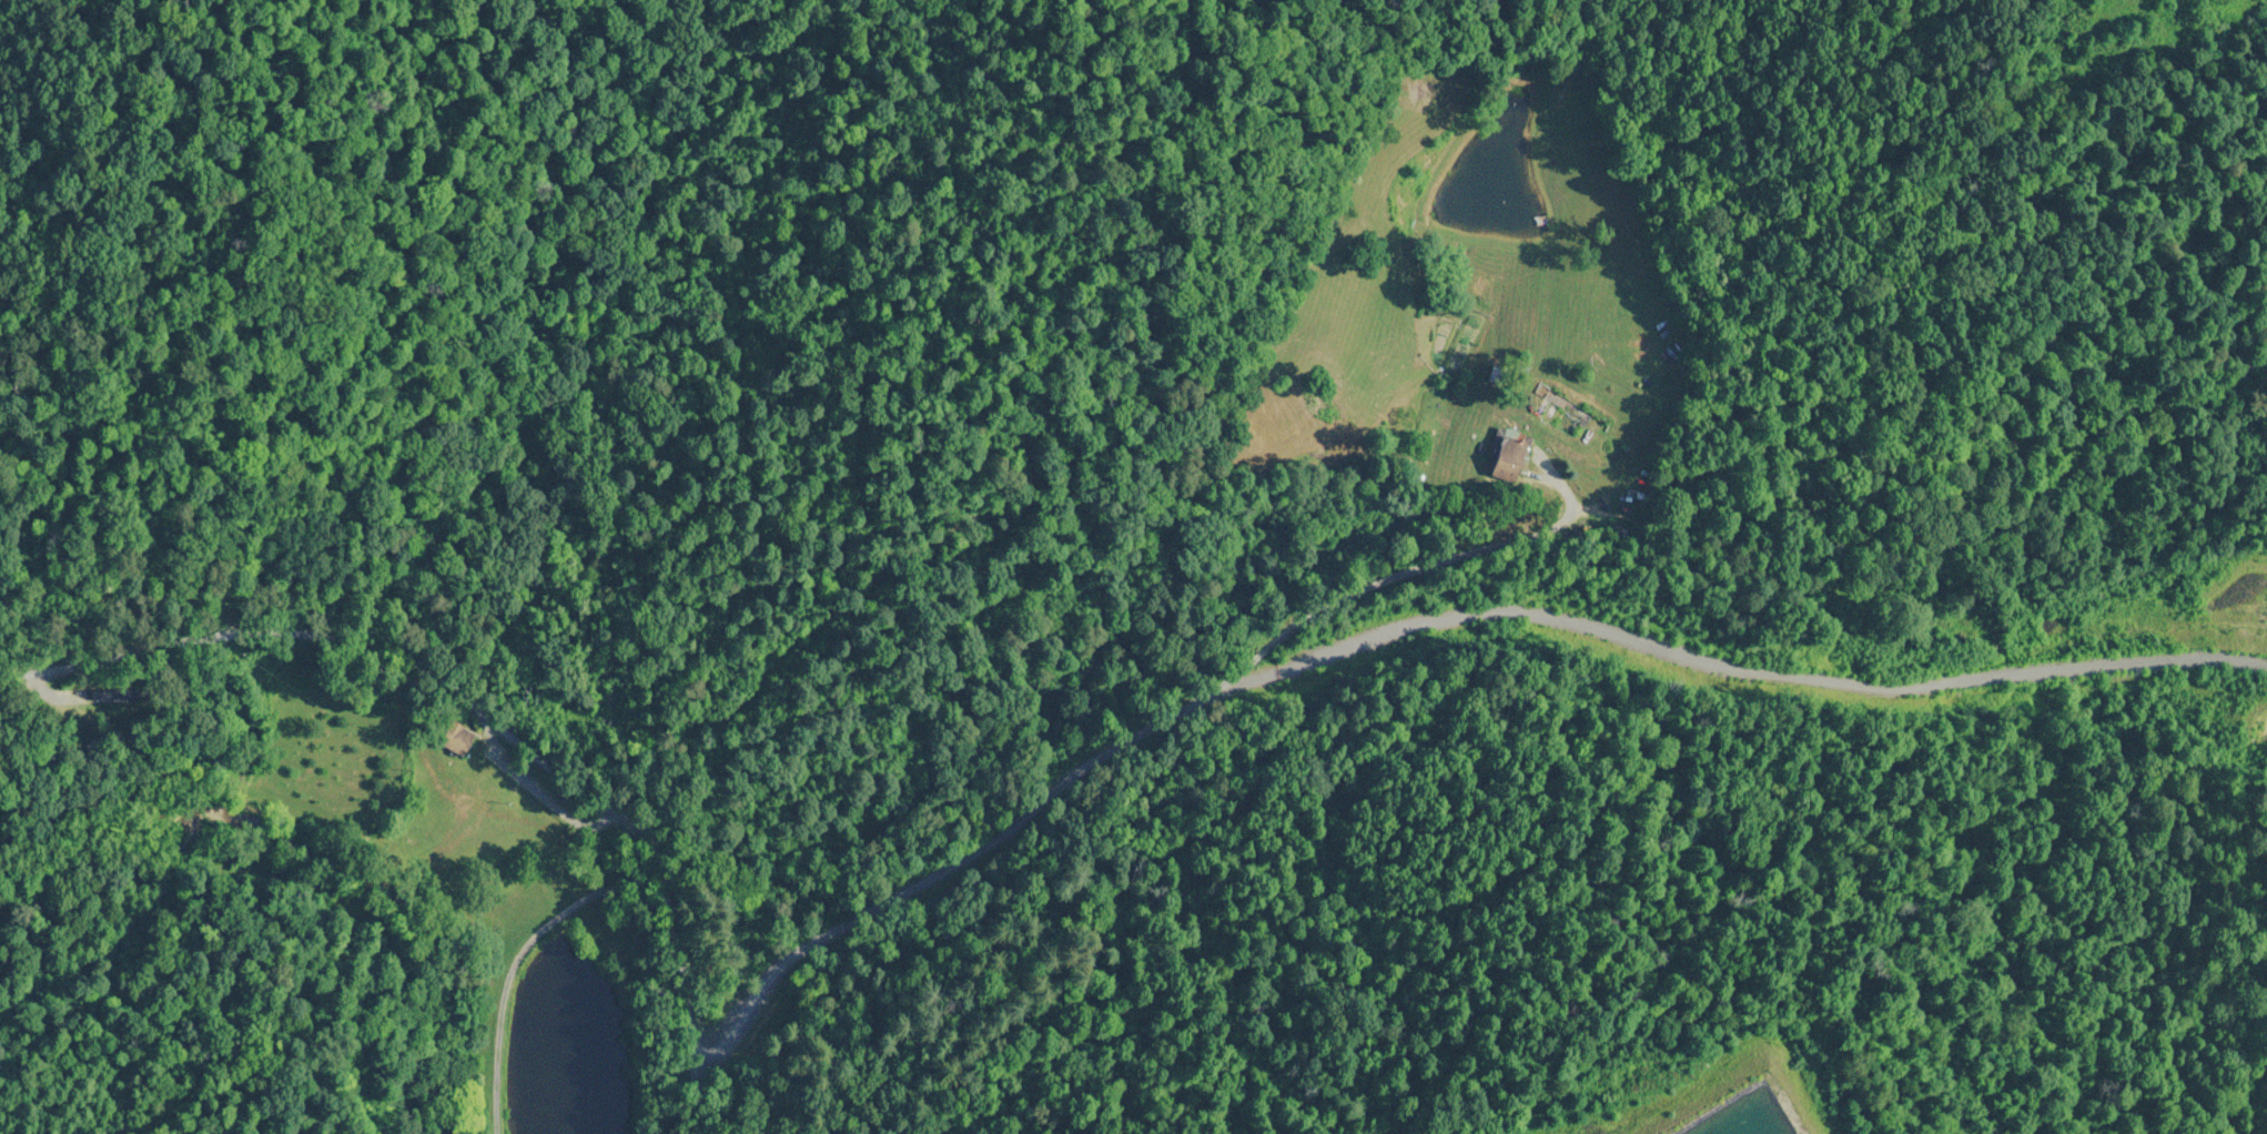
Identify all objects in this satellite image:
building: (1508, 459)
road: (495, 698)
building: (456, 740)

